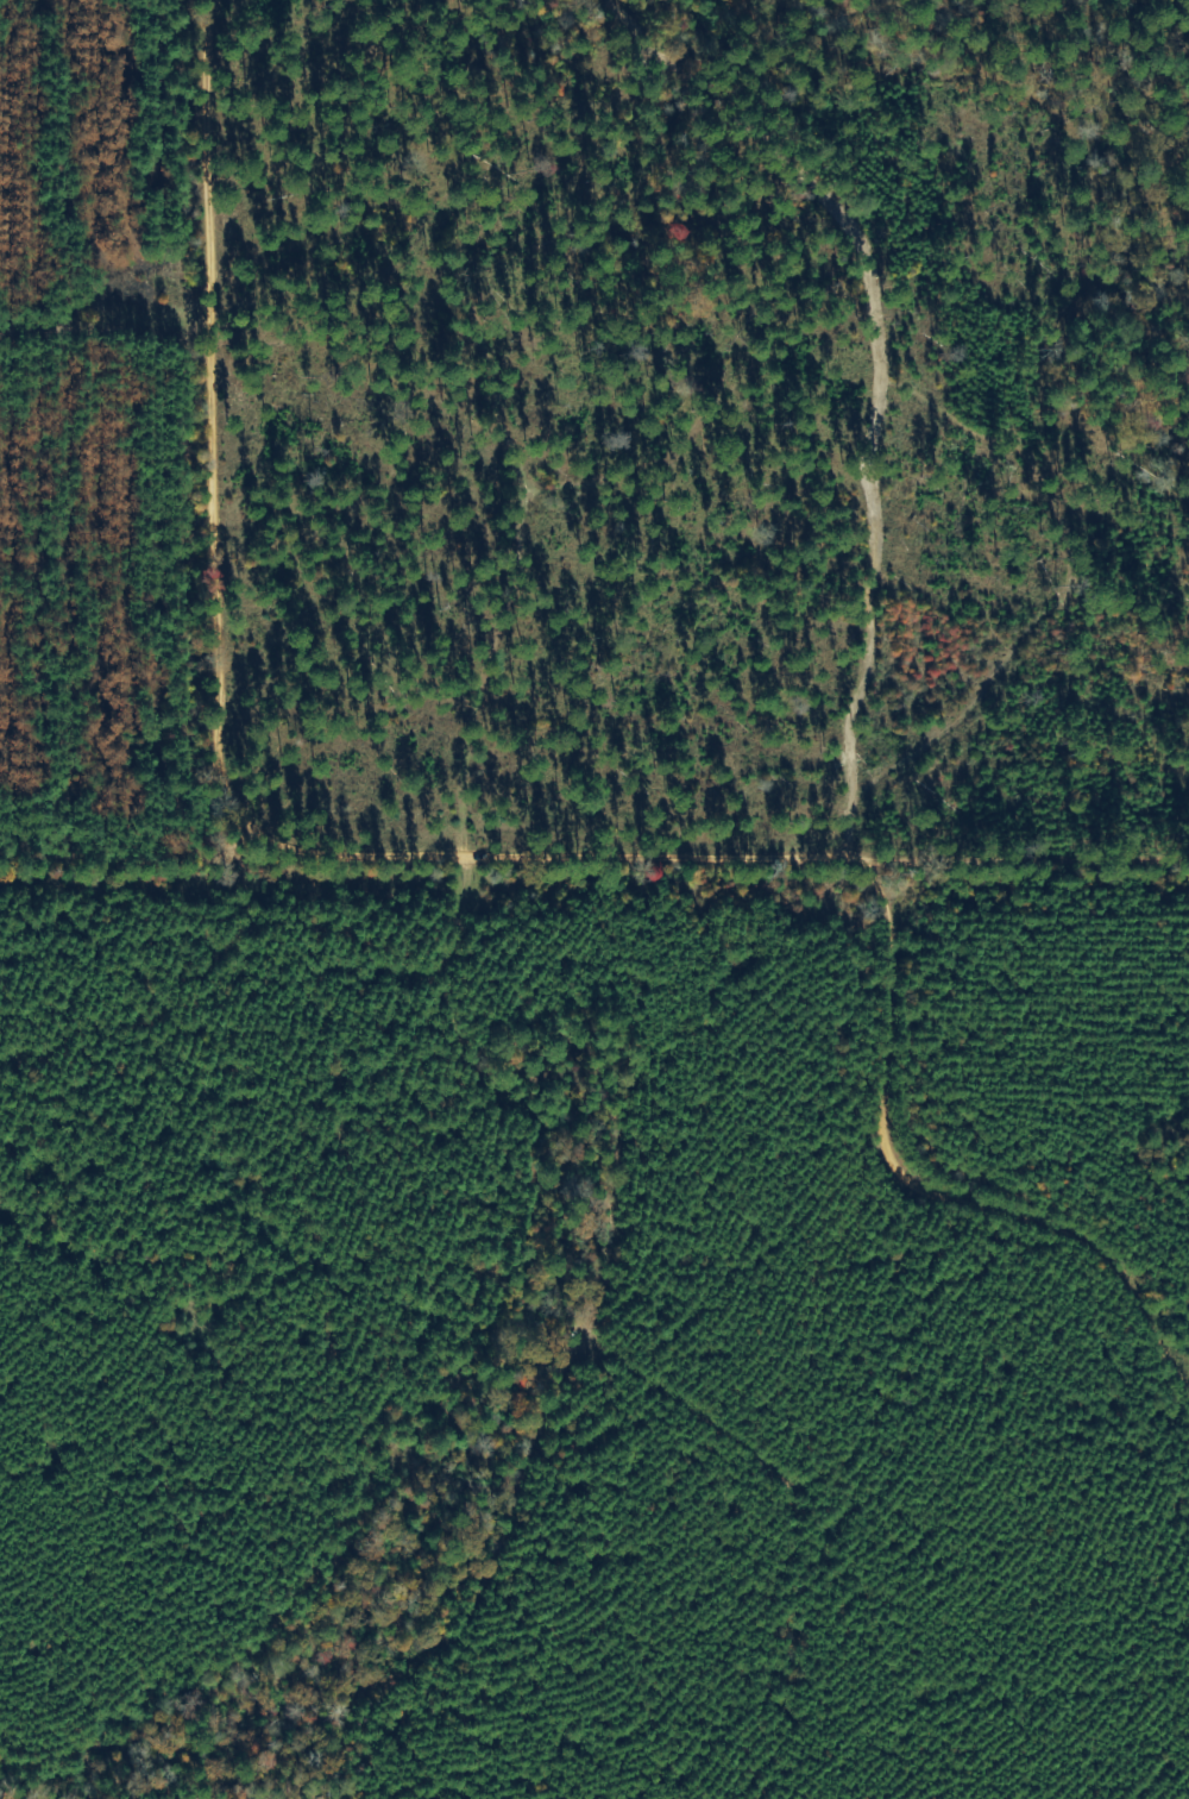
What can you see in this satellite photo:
park: (702, 440)
road: (331, 830)
road: (919, 1186)

